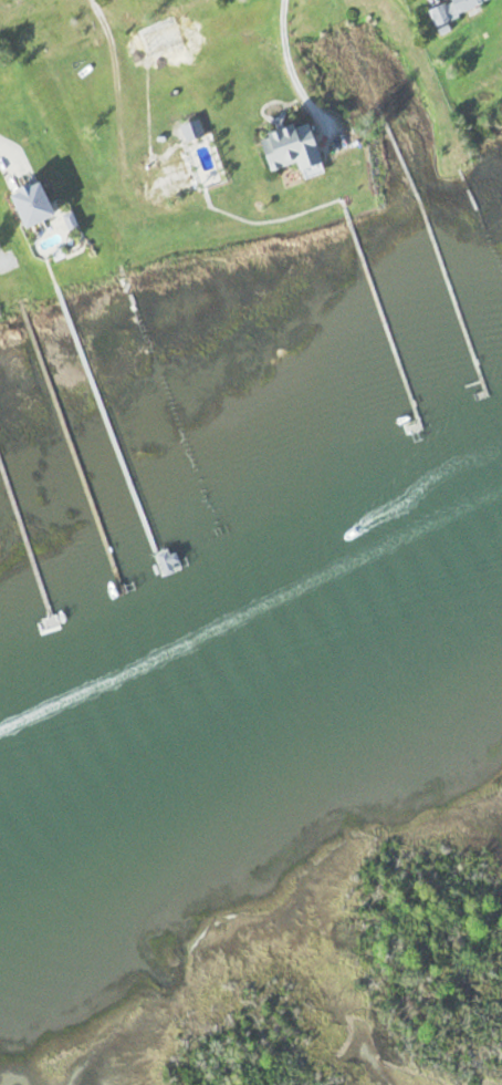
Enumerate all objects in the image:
building: (463, 9)
road: (292, 46)
road: (117, 77)
building: (305, 148)
building: (179, 180)
building: (48, 205)

